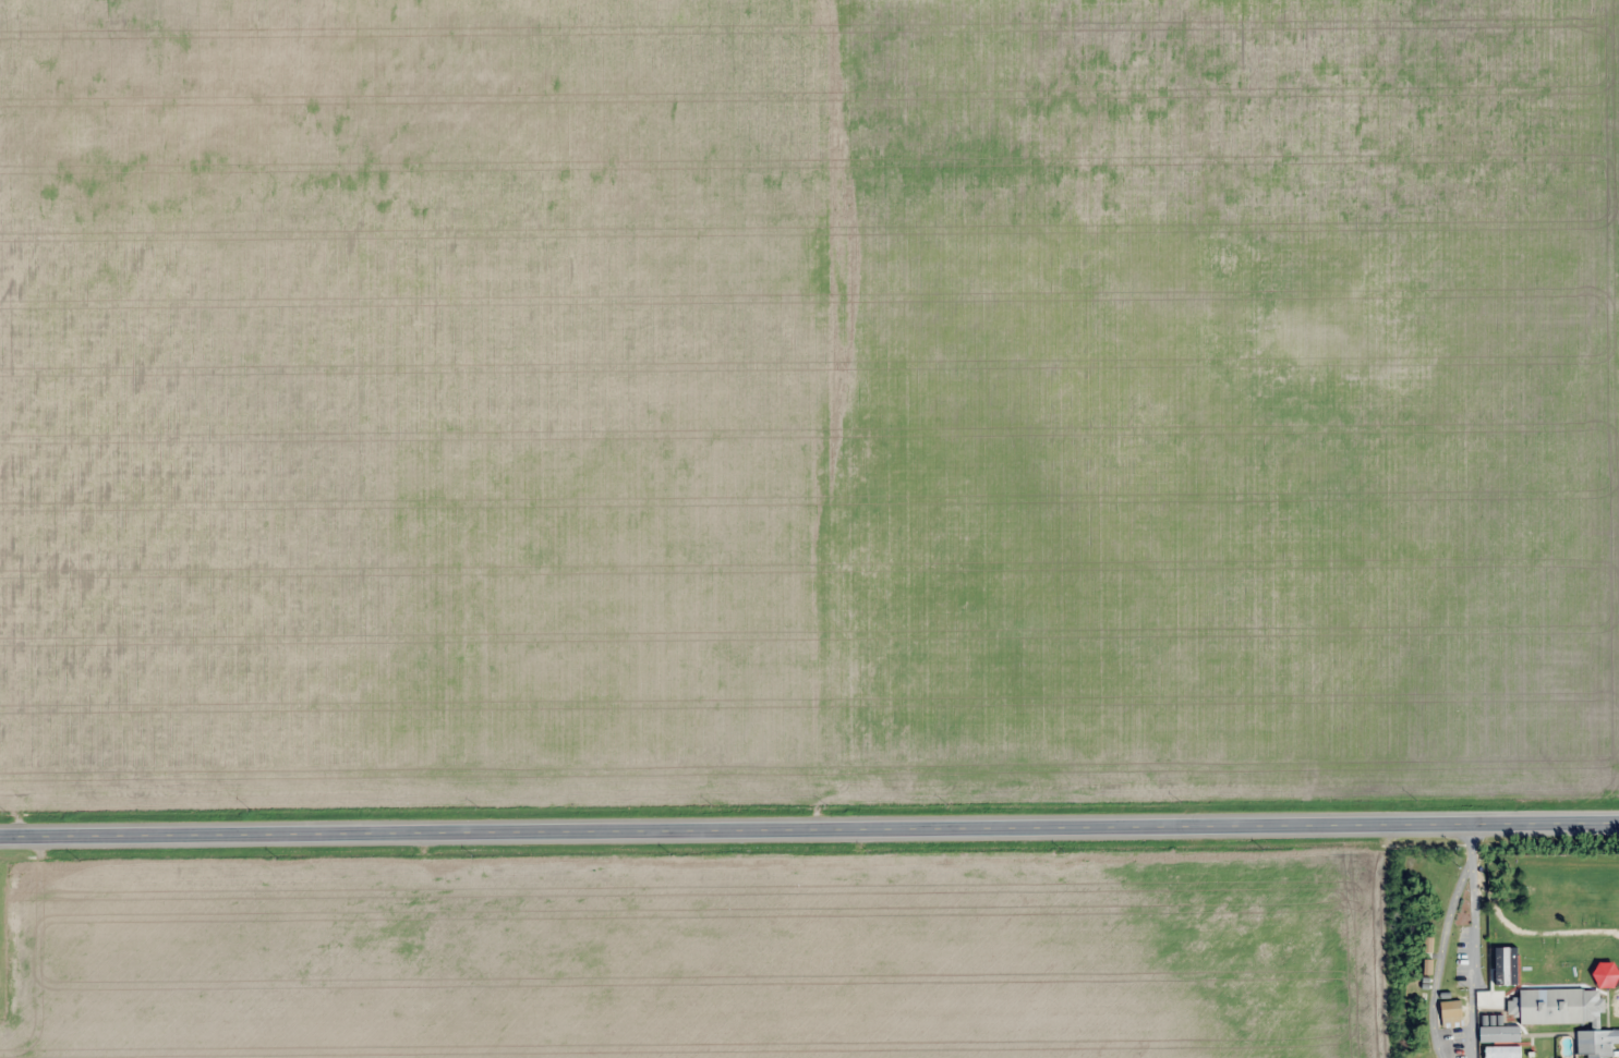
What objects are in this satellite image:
road: (809, 832)
building: (1557, 1007)
building: (1452, 1010)
building: (1594, 1044)

